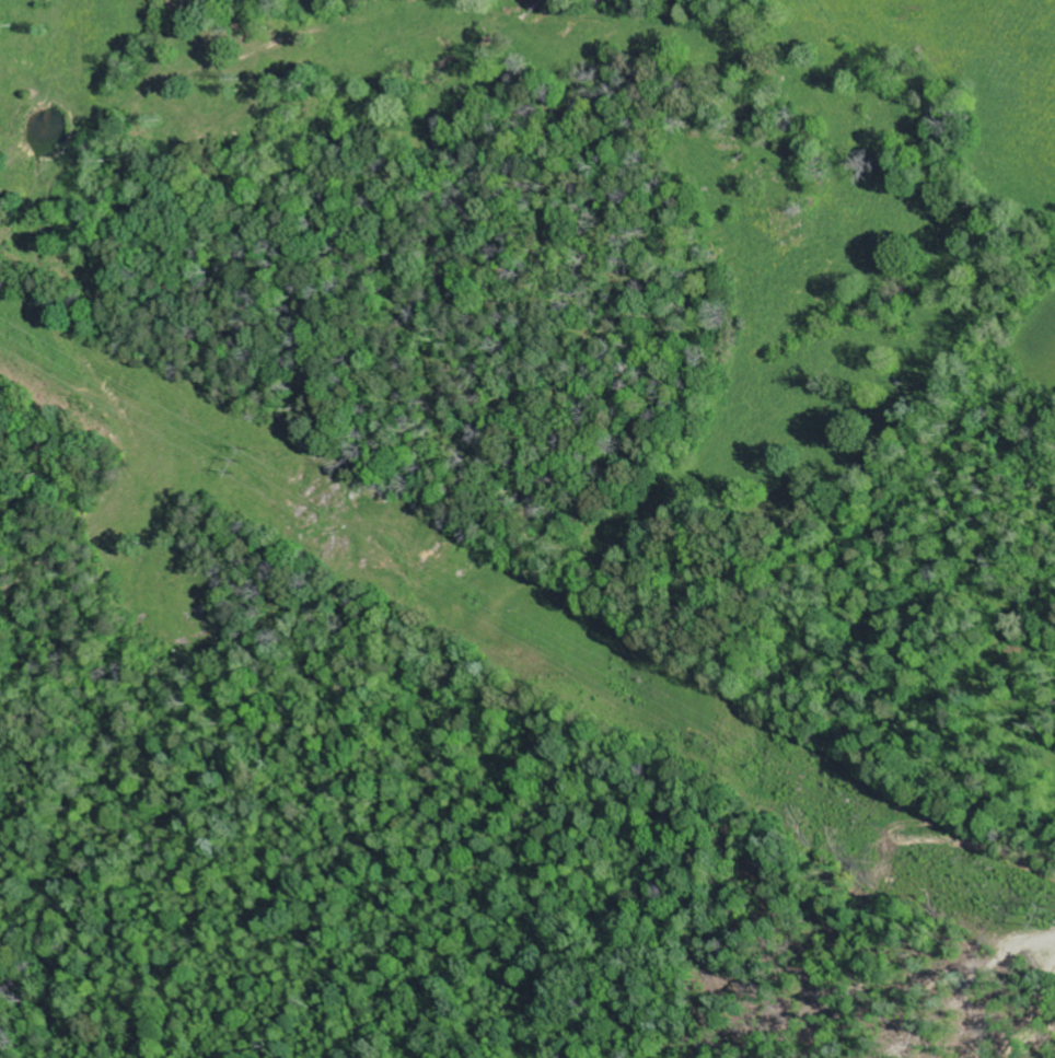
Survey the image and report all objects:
power tower: (244, 456)

